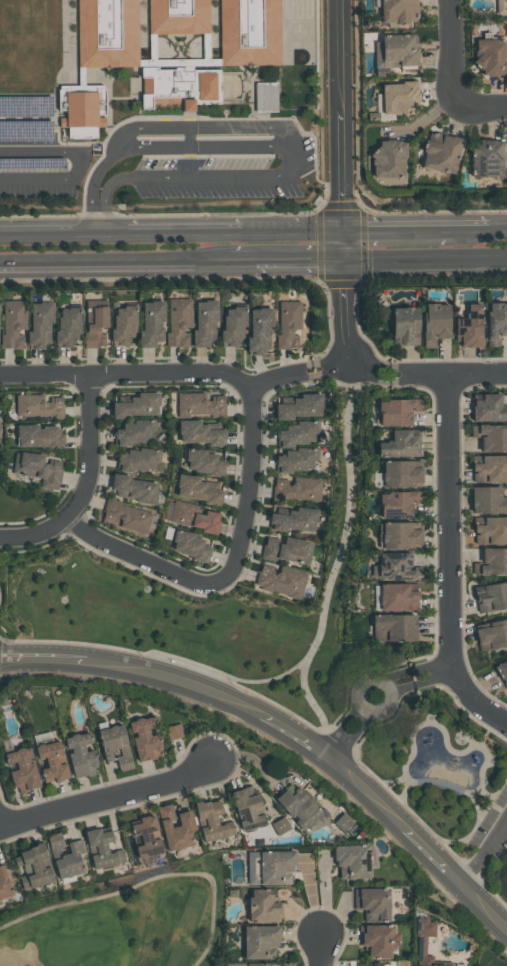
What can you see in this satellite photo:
building: (500, 6)
building: (398, 11)
building: (178, 16)
building: (249, 32)
building: (107, 33)
building: (400, 50)
road: (452, 52)
building: (490, 56)
building: (206, 87)
building: (265, 97)
building: (399, 98)
road: (484, 107)
building: (80, 109)
road: (340, 129)
road: (280, 134)
road: (200, 146)
building: (441, 153)
building: (488, 158)
building: (389, 159)
road: (78, 163)
road: (97, 219)
road: (472, 226)
road: (499, 226)
road: (398, 227)
road: (171, 228)
traffic signals: (343, 249)
road: (300, 258)
road: (425, 258)
road: (243, 259)
road: (115, 260)
road: (347, 313)
building: (496, 322)
building: (95, 323)
building: (178, 323)
building: (204, 323)
building: (435, 323)
building: (13, 324)
building: (151, 324)
building: (39, 325)
building: (122, 325)
building: (287, 325)
building: (232, 326)
building: (66, 327)
building: (404, 327)
building: (469, 327)
building: (259, 331)
road: (350, 369)
road: (447, 371)
road: (156, 373)
building: (199, 405)
building: (39, 406)
building: (136, 406)
building: (299, 408)
building: (487, 408)
building: (396, 411)
building: (135, 432)
building: (199, 434)
building: (297, 434)
building: (39, 436)
building: (491, 437)
building: (0, 444)
building: (399, 445)
road: (88, 450)
building: (137, 460)
building: (295, 460)
building: (203, 462)
building: (37, 469)
building: (490, 469)
road: (253, 470)
building: (401, 474)
building: (134, 489)
building: (296, 489)
building: (197, 491)
building: (488, 500)
building: (399, 503)
park: (26, 507)
building: (127, 516)
building: (193, 517)
building: (294, 520)
building: (490, 530)
building: (401, 535)
building: (189, 545)
road: (119, 550)
building: (286, 550)
road: (445, 560)
road: (338, 563)
building: (492, 563)
building: (395, 567)
building: (280, 581)
building: (397, 598)
building: (490, 598)
building: (395, 627)
building: (492, 636)
road: (428, 665)
building: (502, 672)
road: (397, 673)
road: (374, 677)
road: (437, 678)
park: (280, 681)
road: (248, 682)
road: (406, 687)
road: (285, 728)
road: (341, 728)
building: (173, 732)
building: (144, 739)
road: (354, 739)
building: (115, 746)
building: (80, 756)
building: (52, 763)
building: (22, 771)
road: (111, 797)
building: (297, 807)
building: (247, 808)
building: (212, 821)
building: (344, 821)
road: (1, 823)
building: (280, 826)
building: (175, 829)
building: (147, 837)
building: (102, 849)
road: (485, 853)
building: (65, 856)
building: (352, 861)
building: (33, 868)
building: (275, 868)
building: (4, 886)
building: (372, 904)
building: (263, 907)
park: (125, 920)
building: (424, 940)
building: (377, 941)
building: (260, 942)
road: (321, 951)
building: (258, 964)
building: (371, 964)

